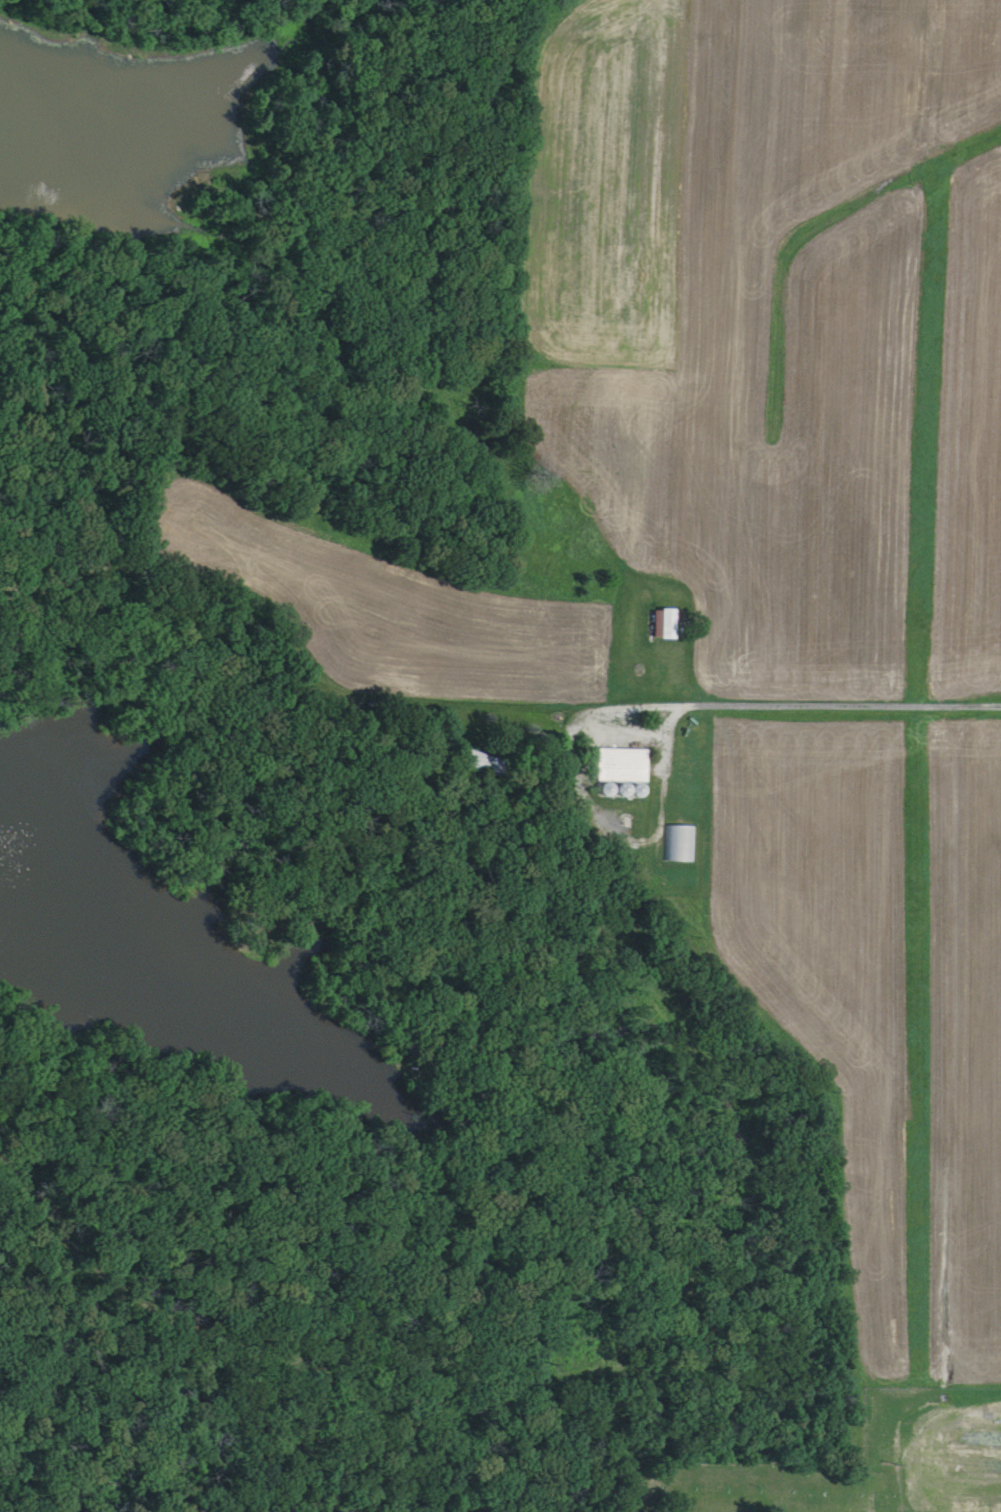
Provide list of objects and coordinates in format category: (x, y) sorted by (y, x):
building: (669, 626)
road: (721, 704)
building: (484, 765)
building: (622, 765)
building: (678, 844)

